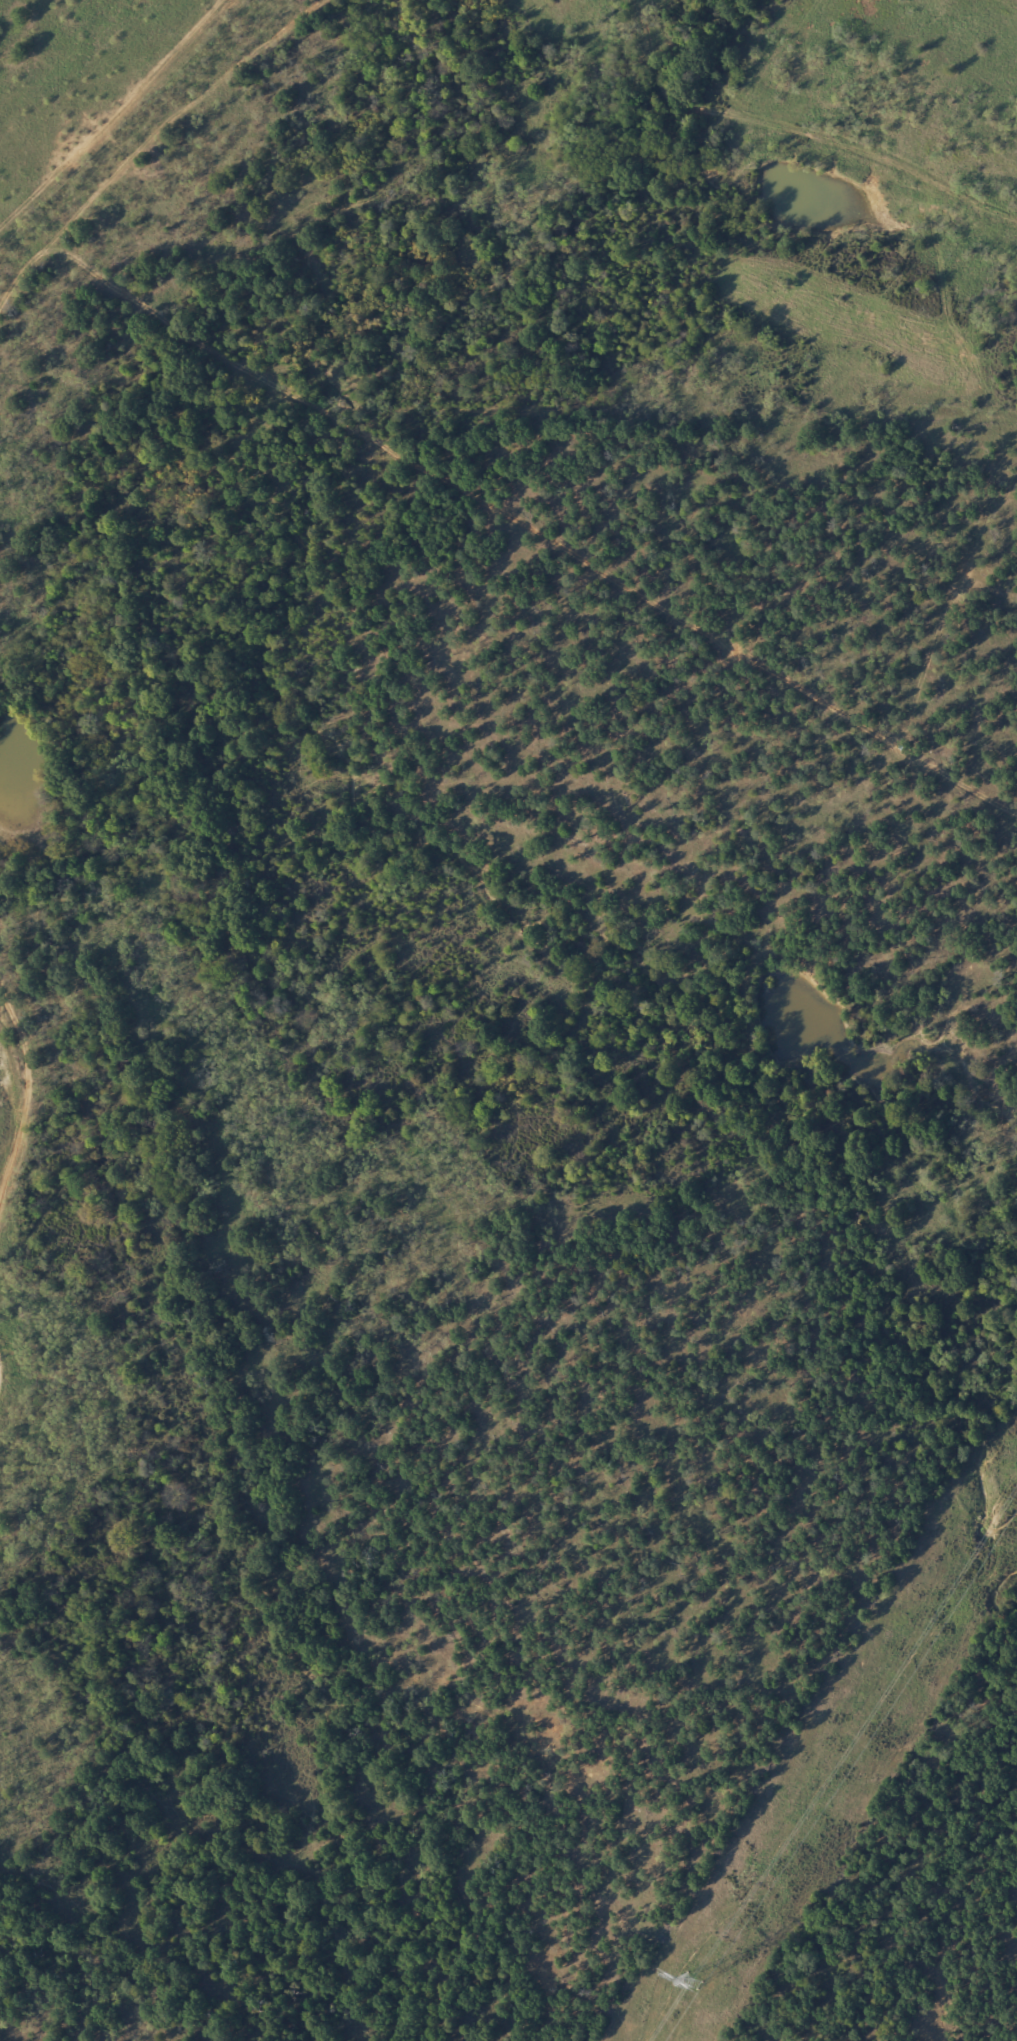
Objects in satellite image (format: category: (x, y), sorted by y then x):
power tower: (693, 1981)

